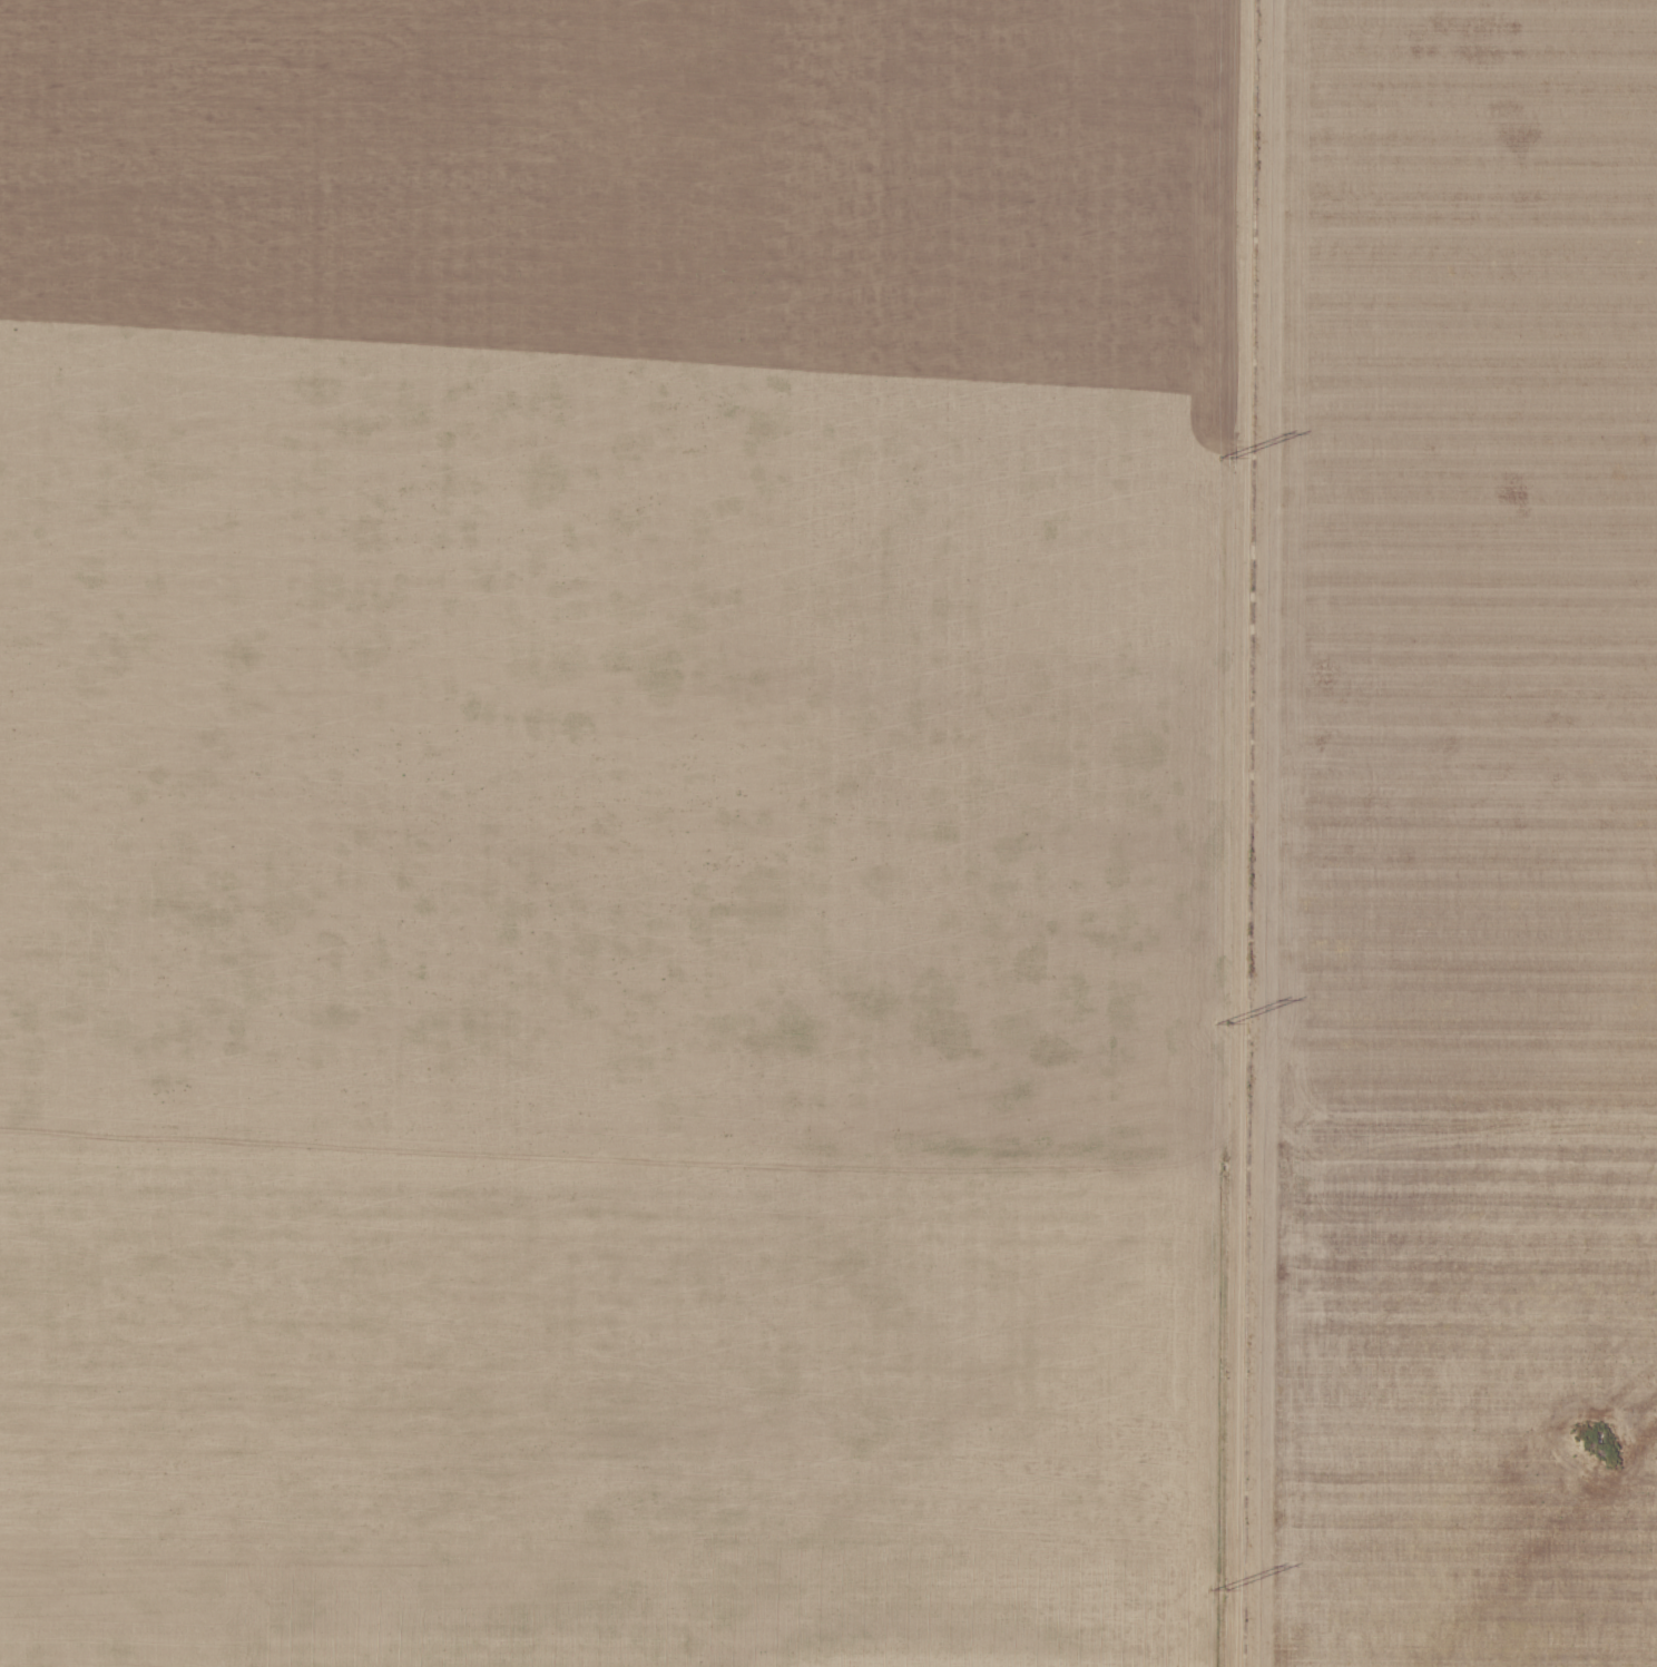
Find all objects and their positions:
power tower: (1224, 459)
power tower: (1220, 1023)
power tower: (1217, 1589)

